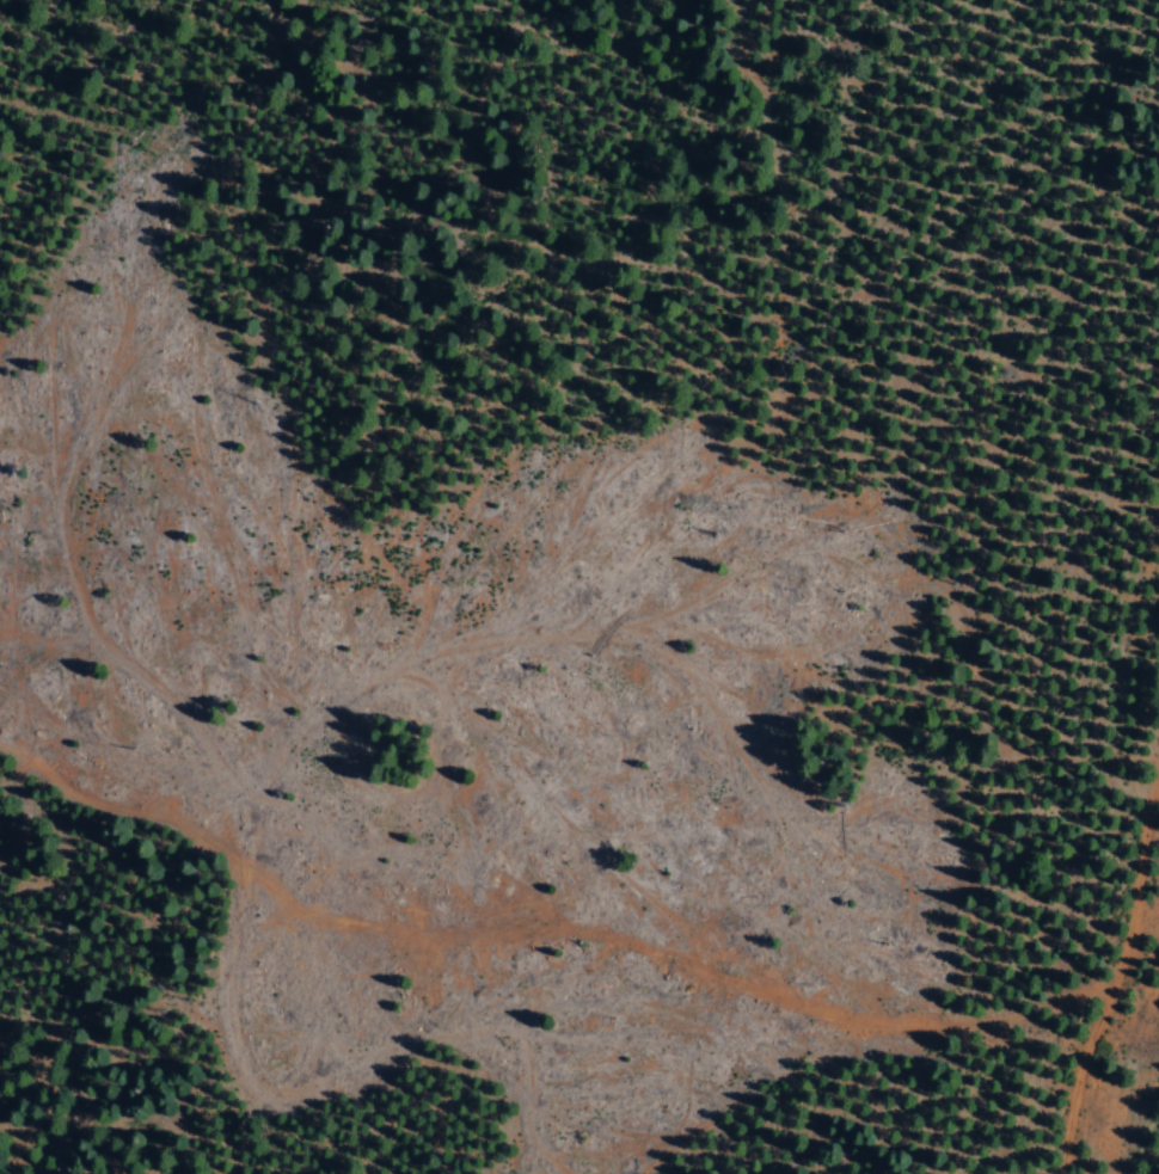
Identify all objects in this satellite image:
road: (1106, 1000)

